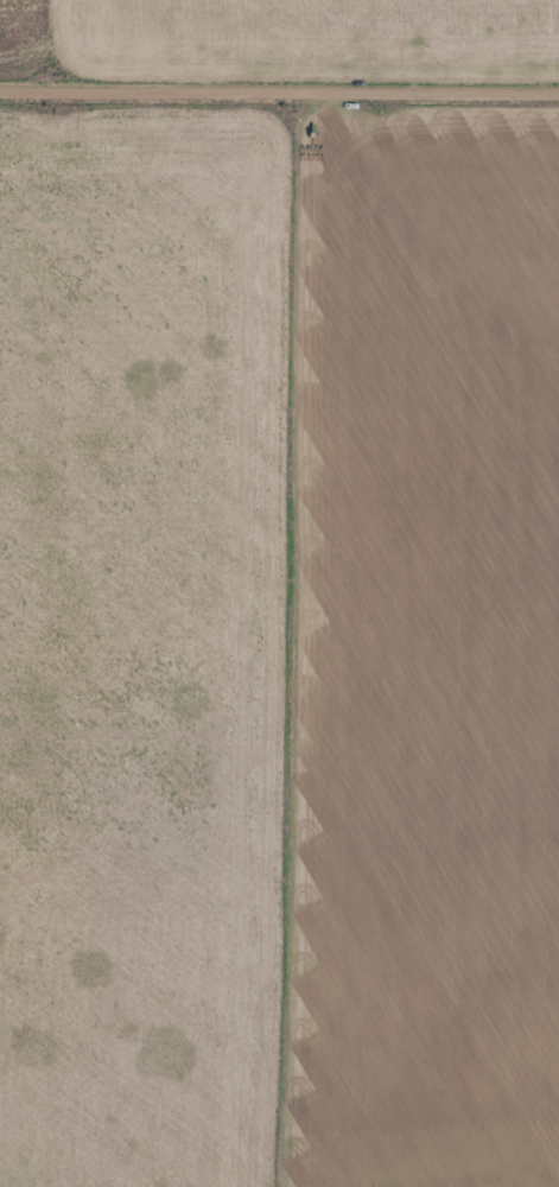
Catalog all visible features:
road: (279, 109)

